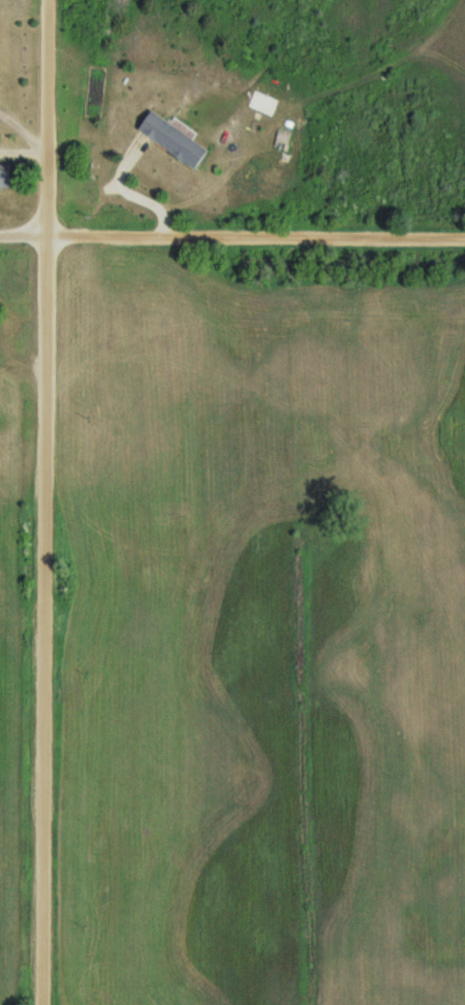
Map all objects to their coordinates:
building: (176, 142)
building: (7, 178)
road: (232, 235)
road: (43, 502)

